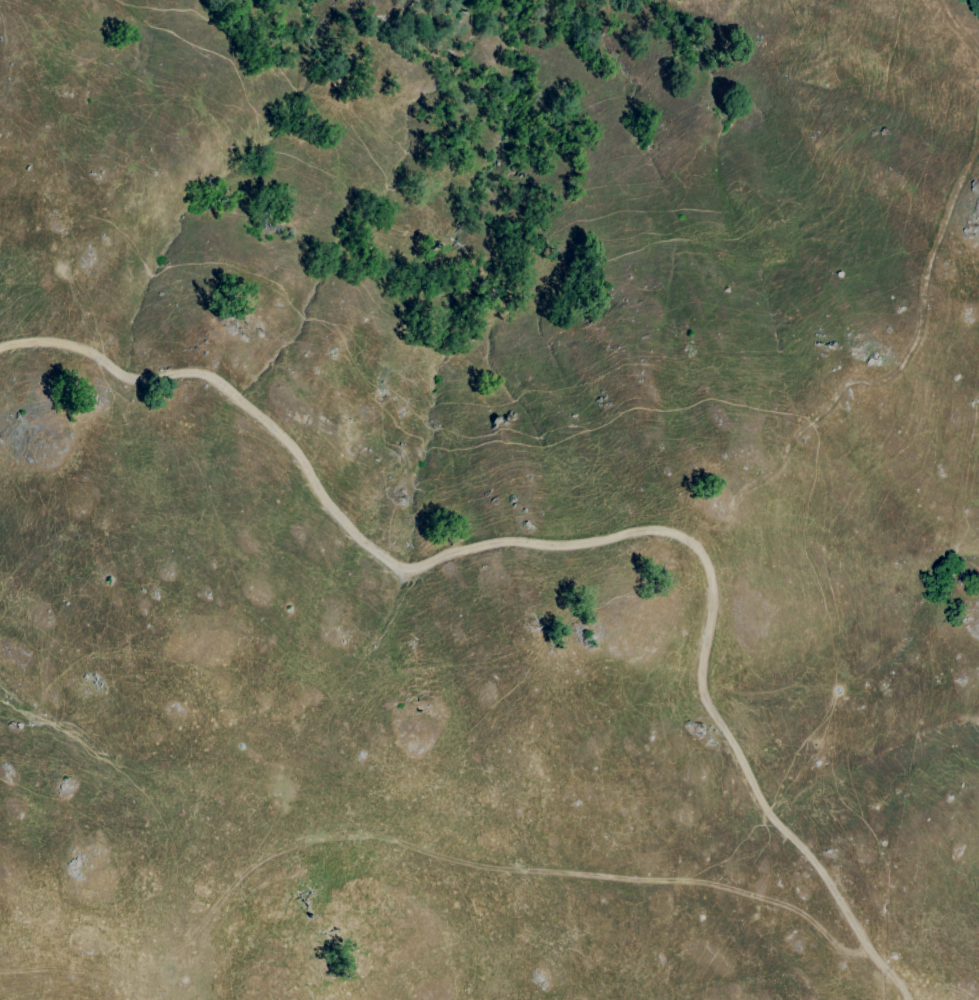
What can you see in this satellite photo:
road: (563, 551)

